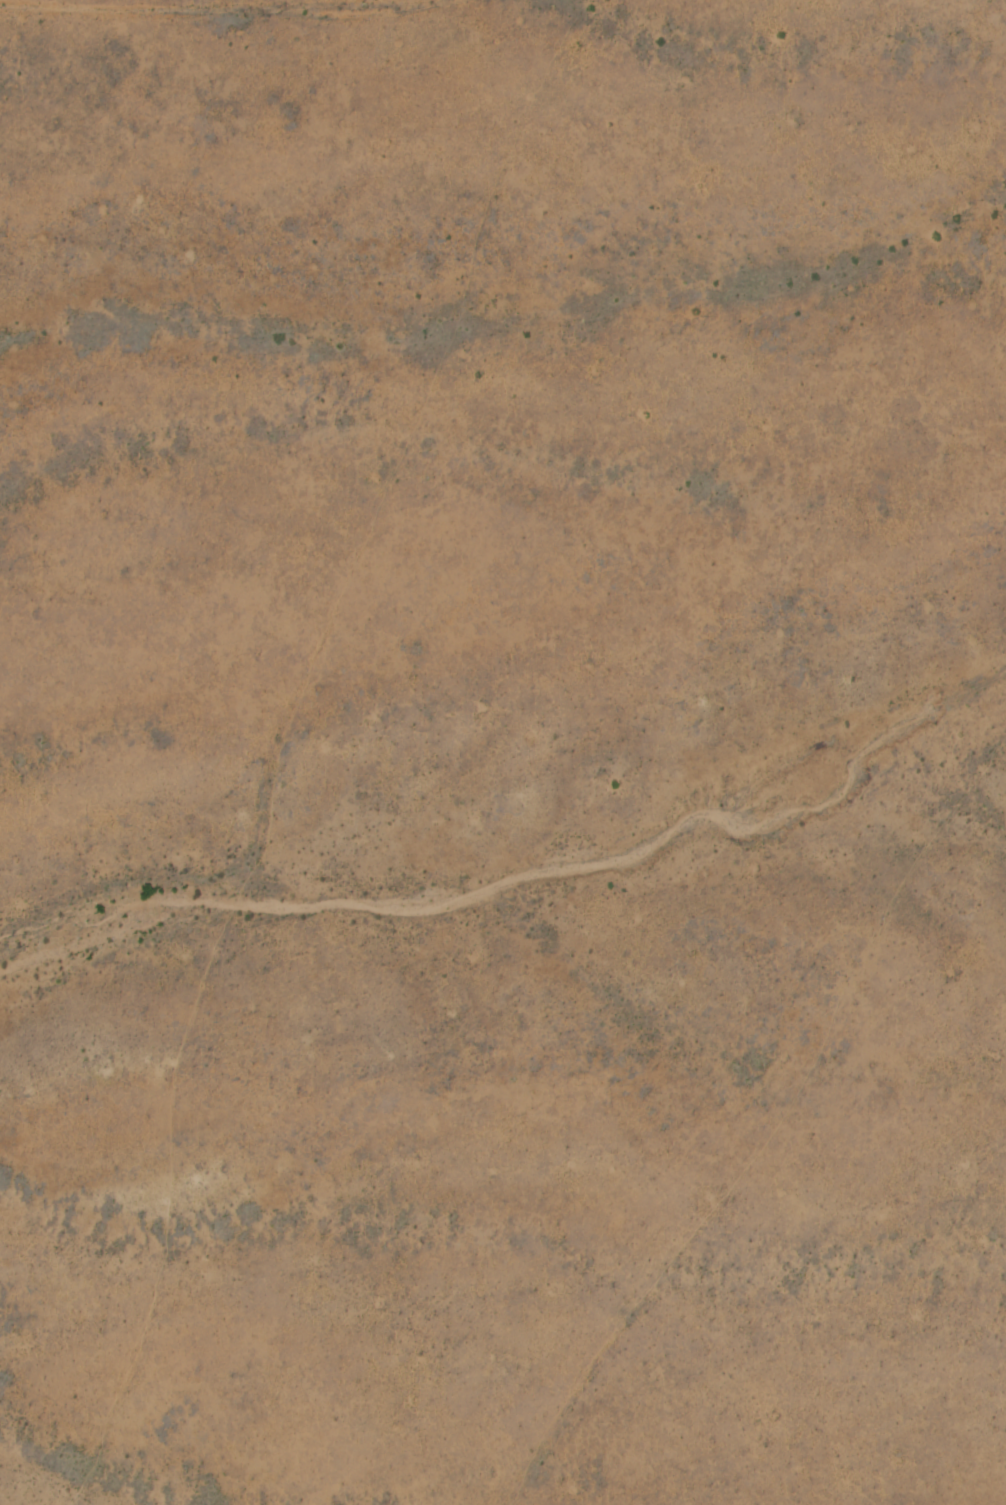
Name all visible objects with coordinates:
road: (67, 10)

